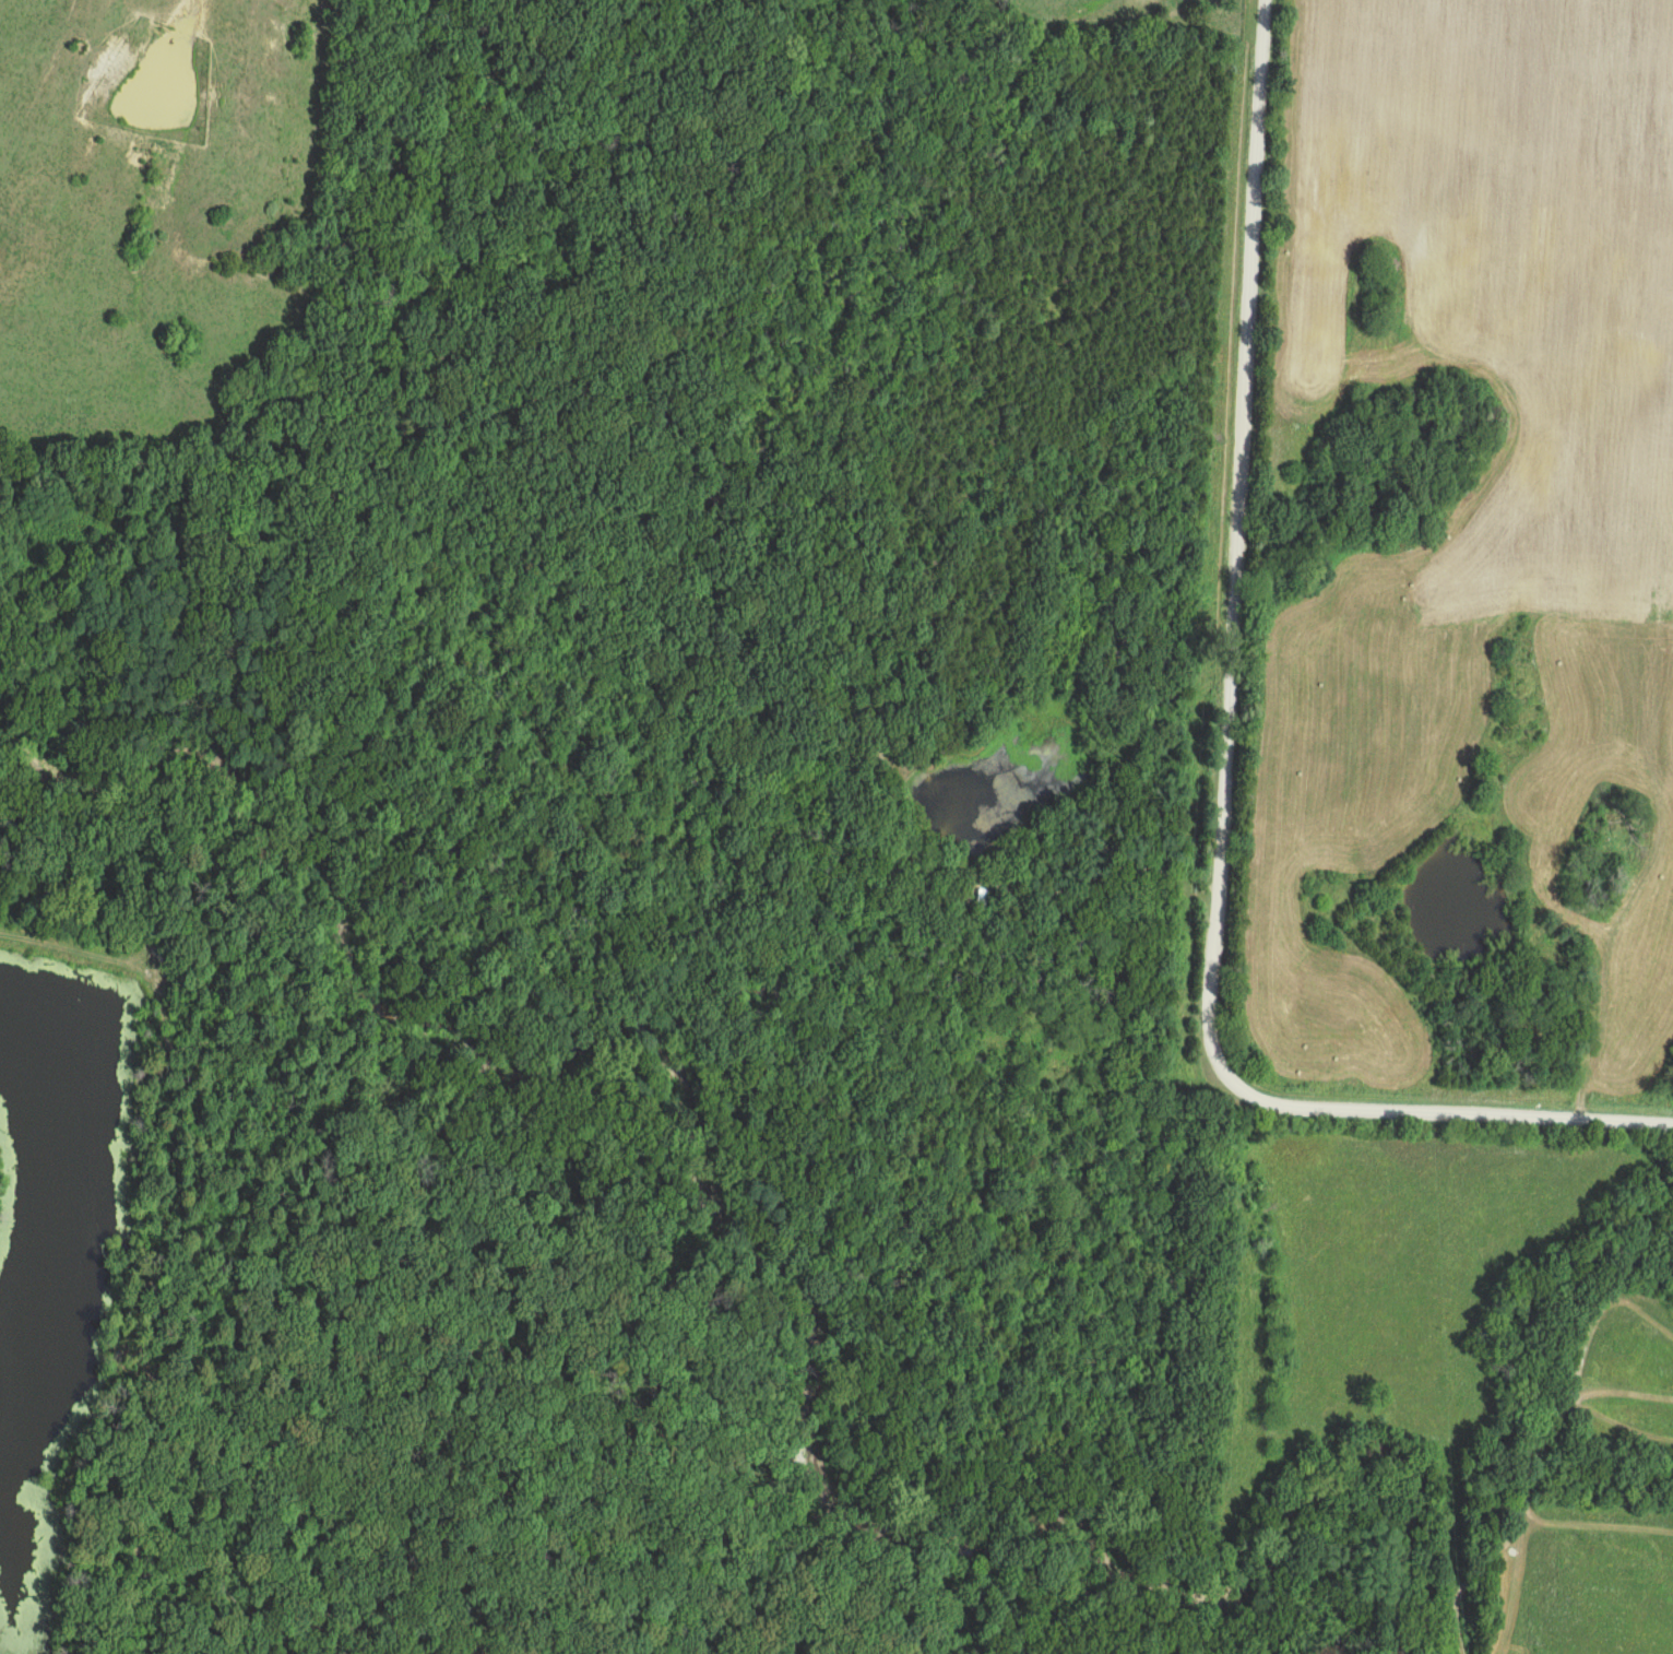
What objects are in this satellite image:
road: (1229, 767)

